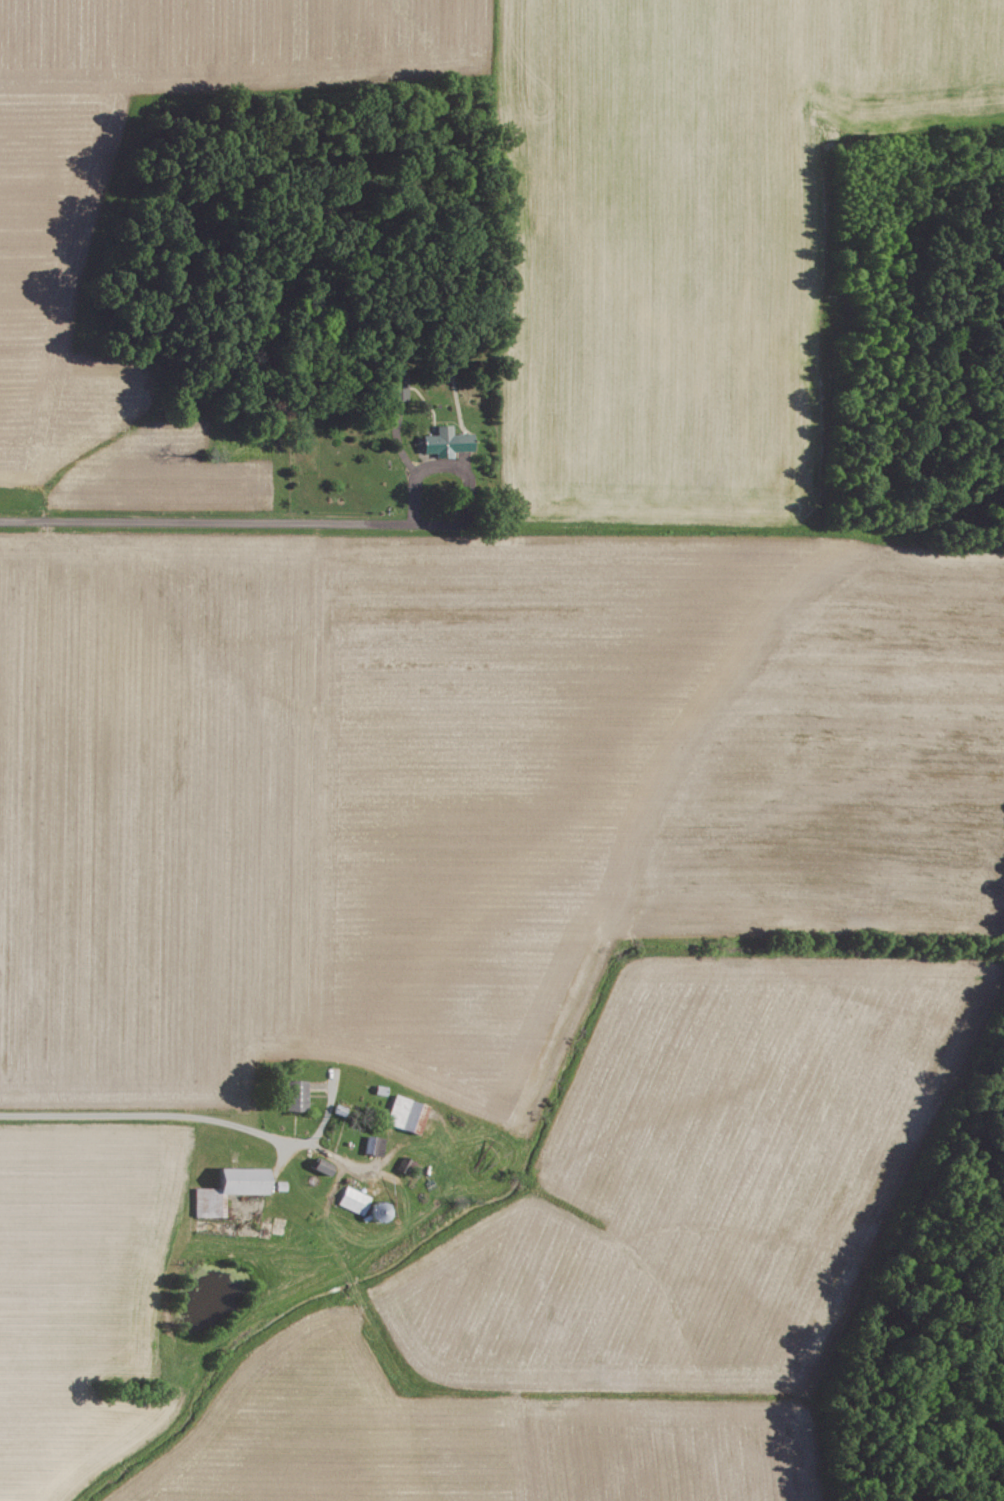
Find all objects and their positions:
building: (449, 359)
building: (399, 387)
building: (449, 440)
road: (222, 521)
building: (296, 1095)
building: (407, 1114)
road: (188, 1115)
building: (374, 1145)
building: (321, 1166)
building: (228, 1190)
building: (354, 1200)

